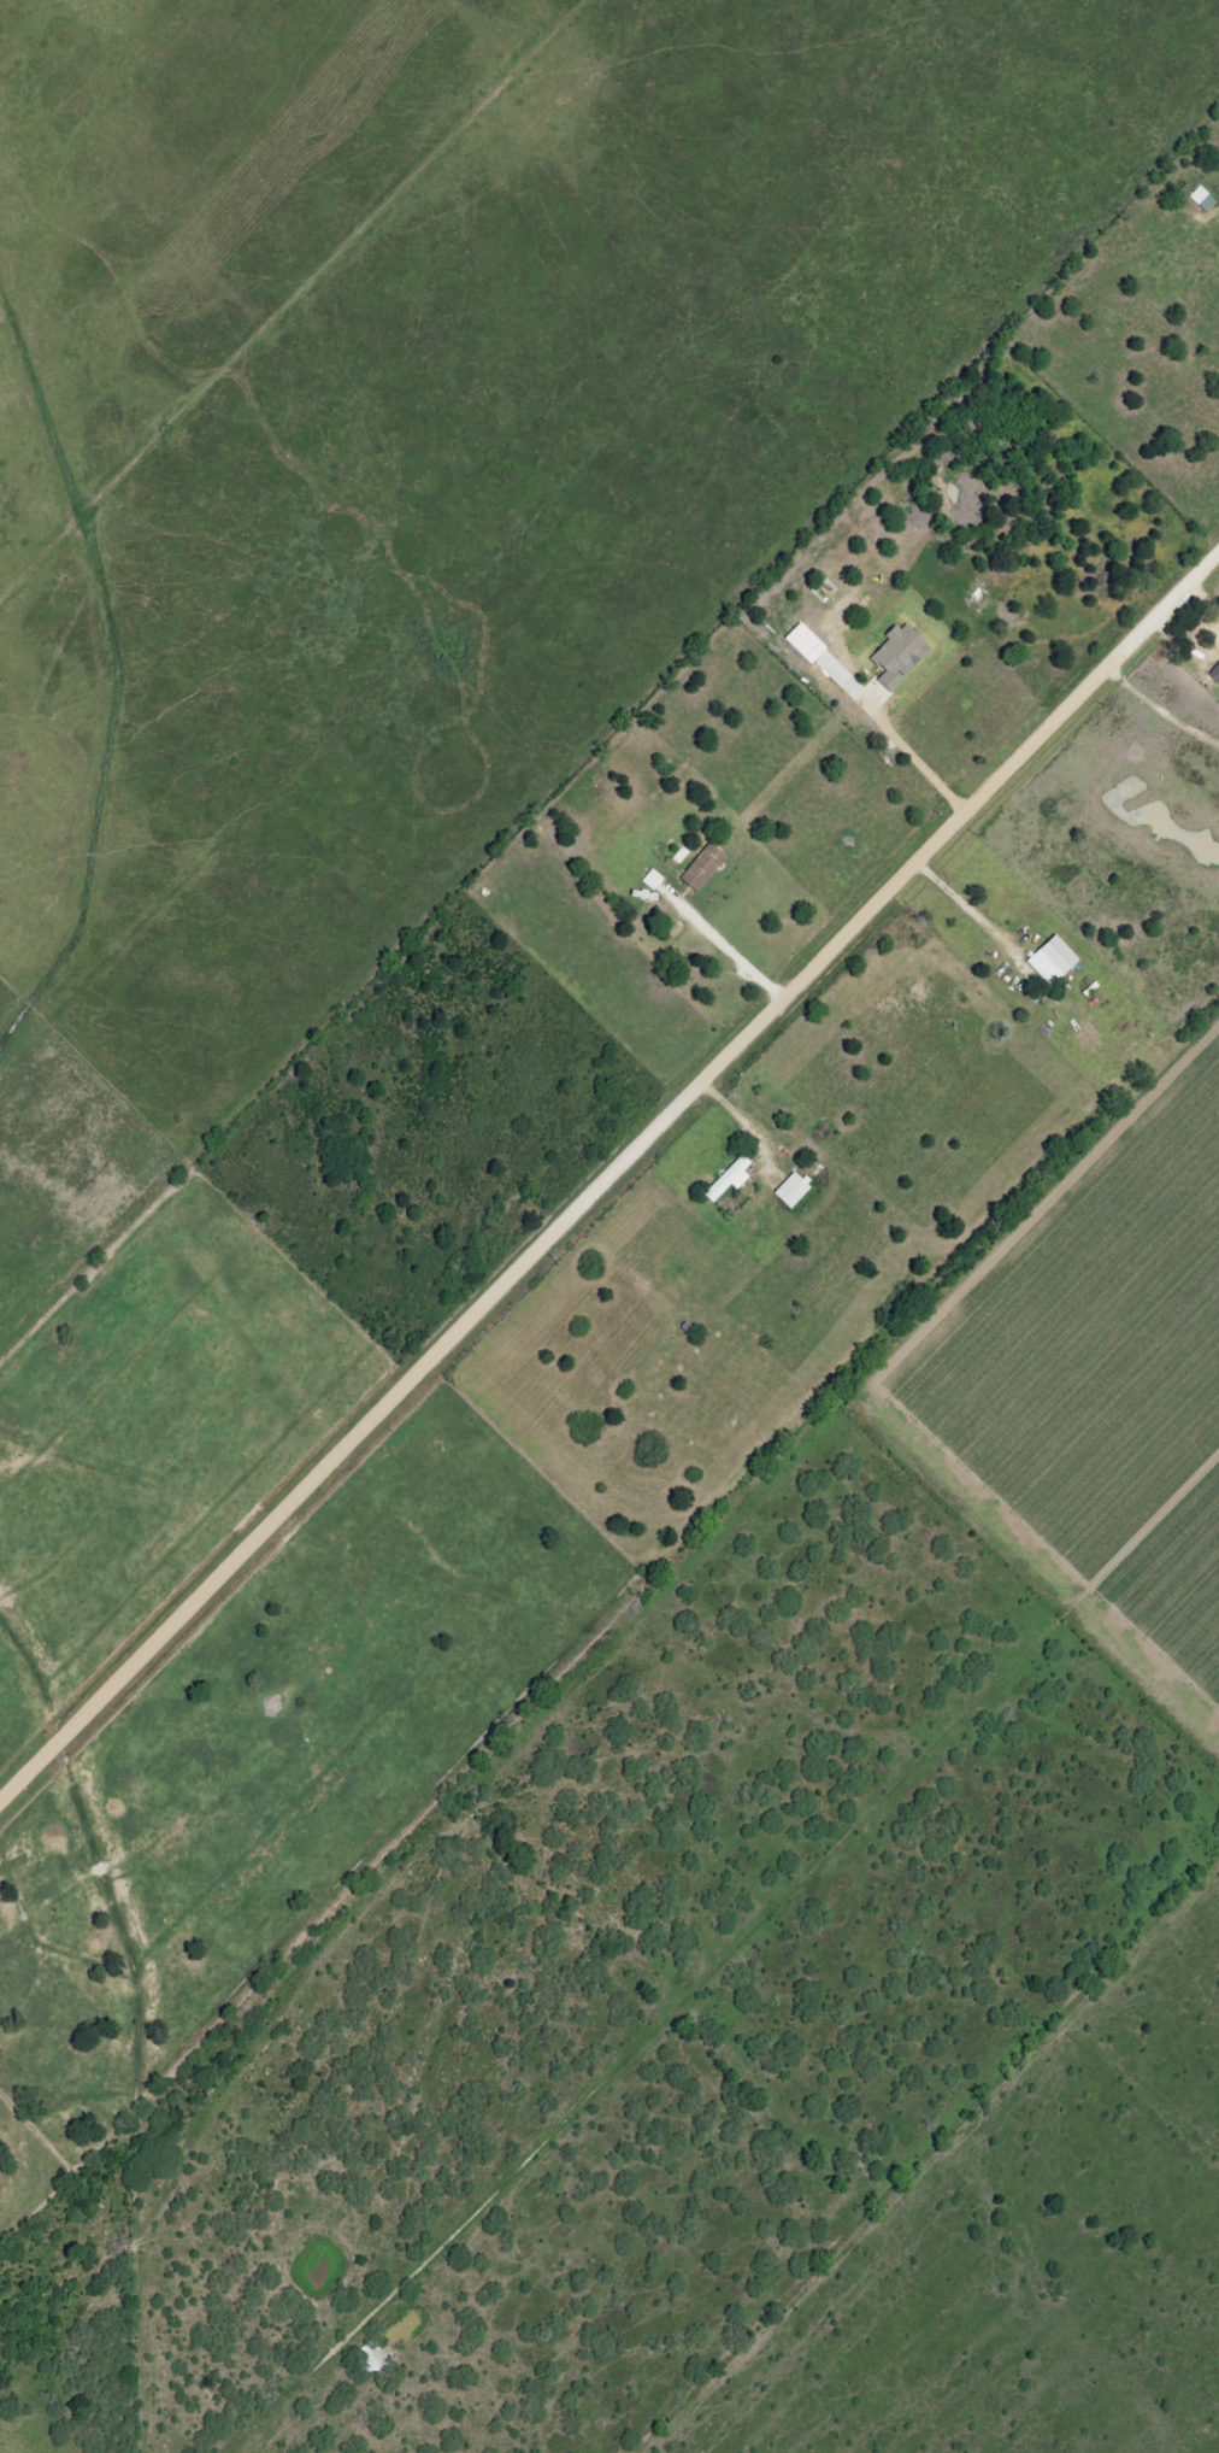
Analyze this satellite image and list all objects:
building: (802, 642)
building: (896, 656)
road: (1159, 715)
road: (912, 761)
building: (702, 868)
building: (652, 880)
road: (966, 911)
road: (726, 955)
building: (1049, 960)
road: (740, 1120)
road: (607, 1178)
building: (728, 1180)
building: (791, 1191)

